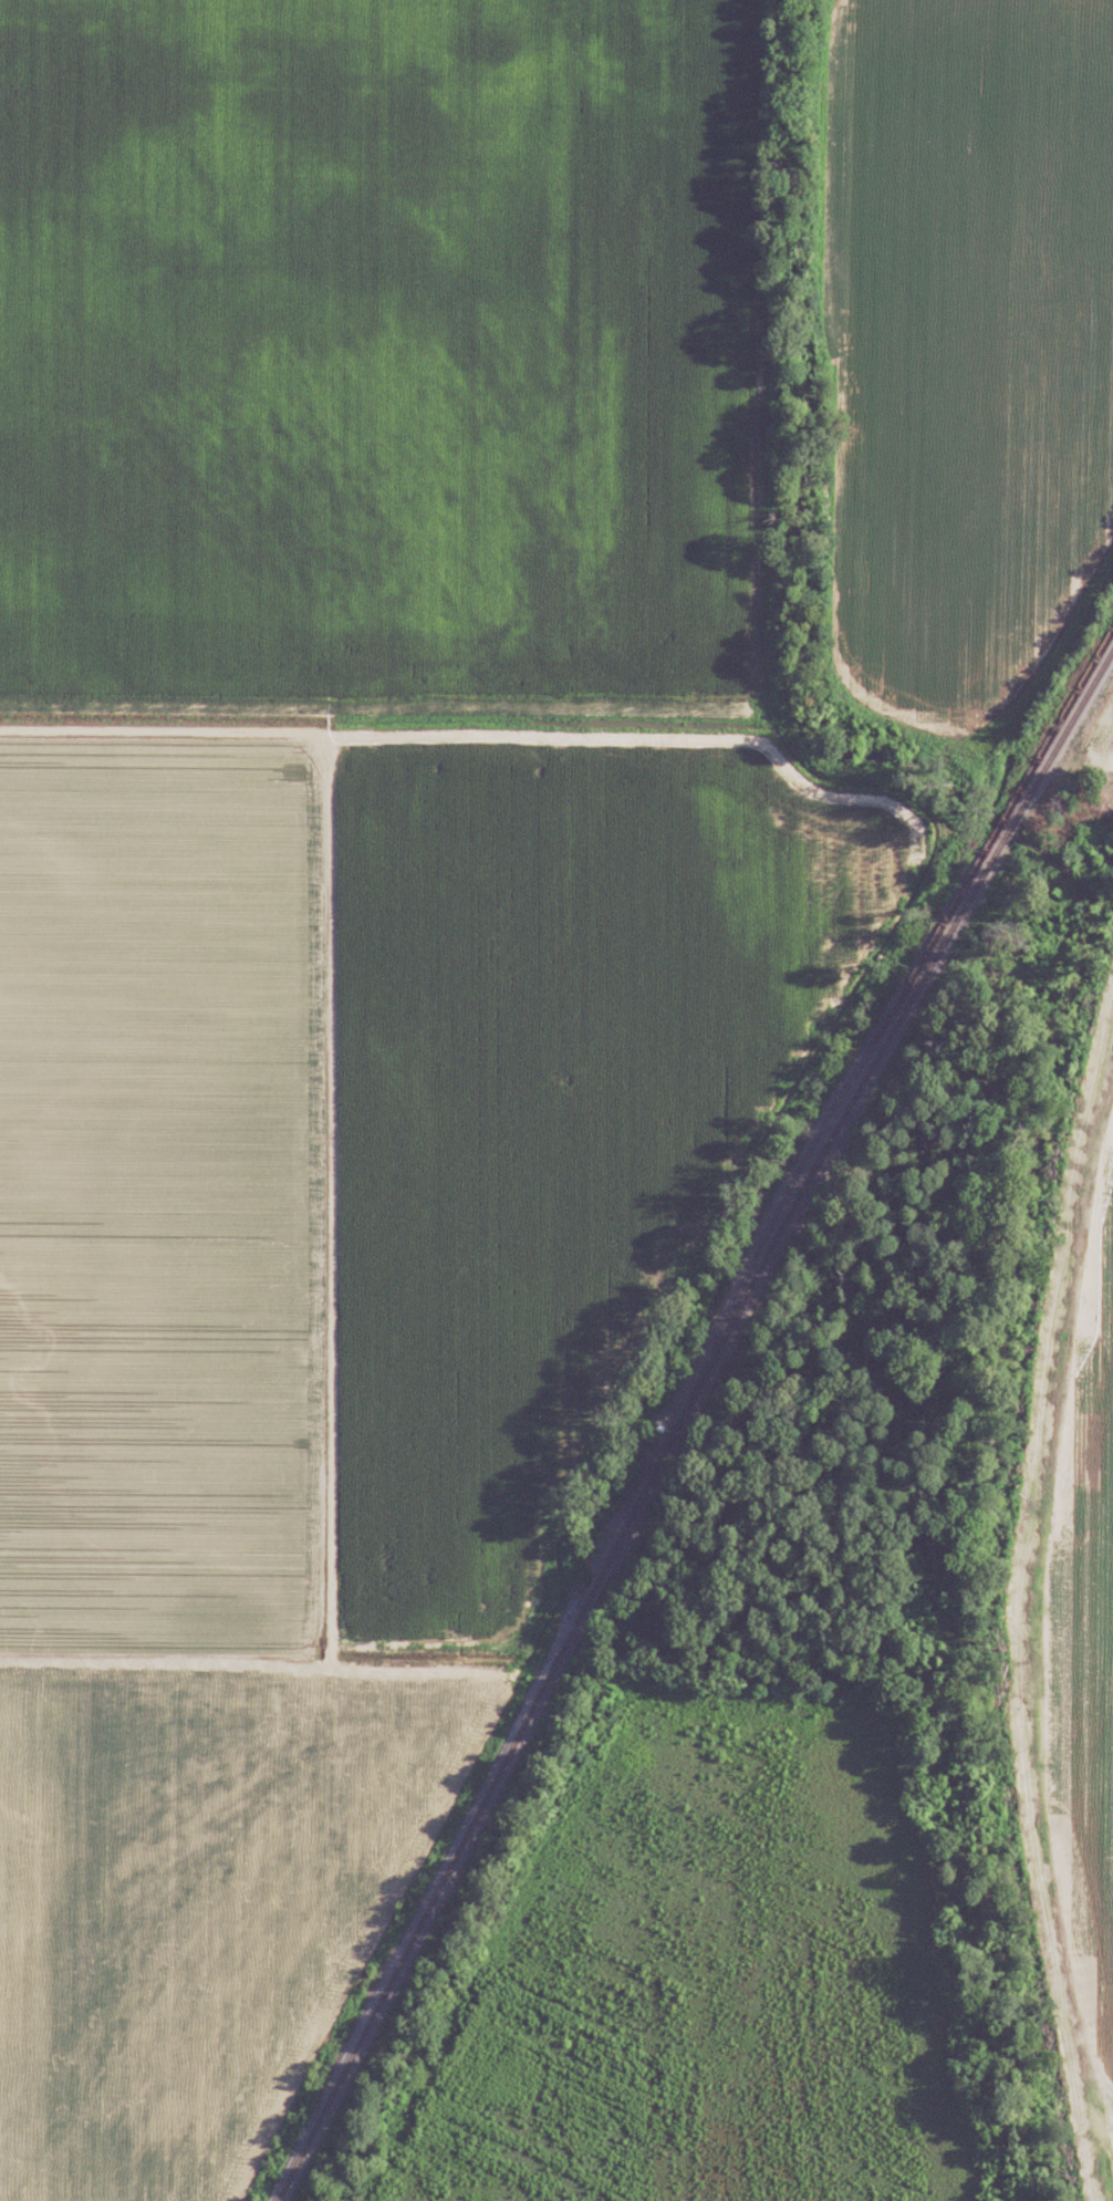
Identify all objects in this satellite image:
railway: (1060, 716)
railway: (1065, 729)
railway: (998, 826)
railway: (1008, 830)
railway: (832, 1105)
railway: (624, 1517)

